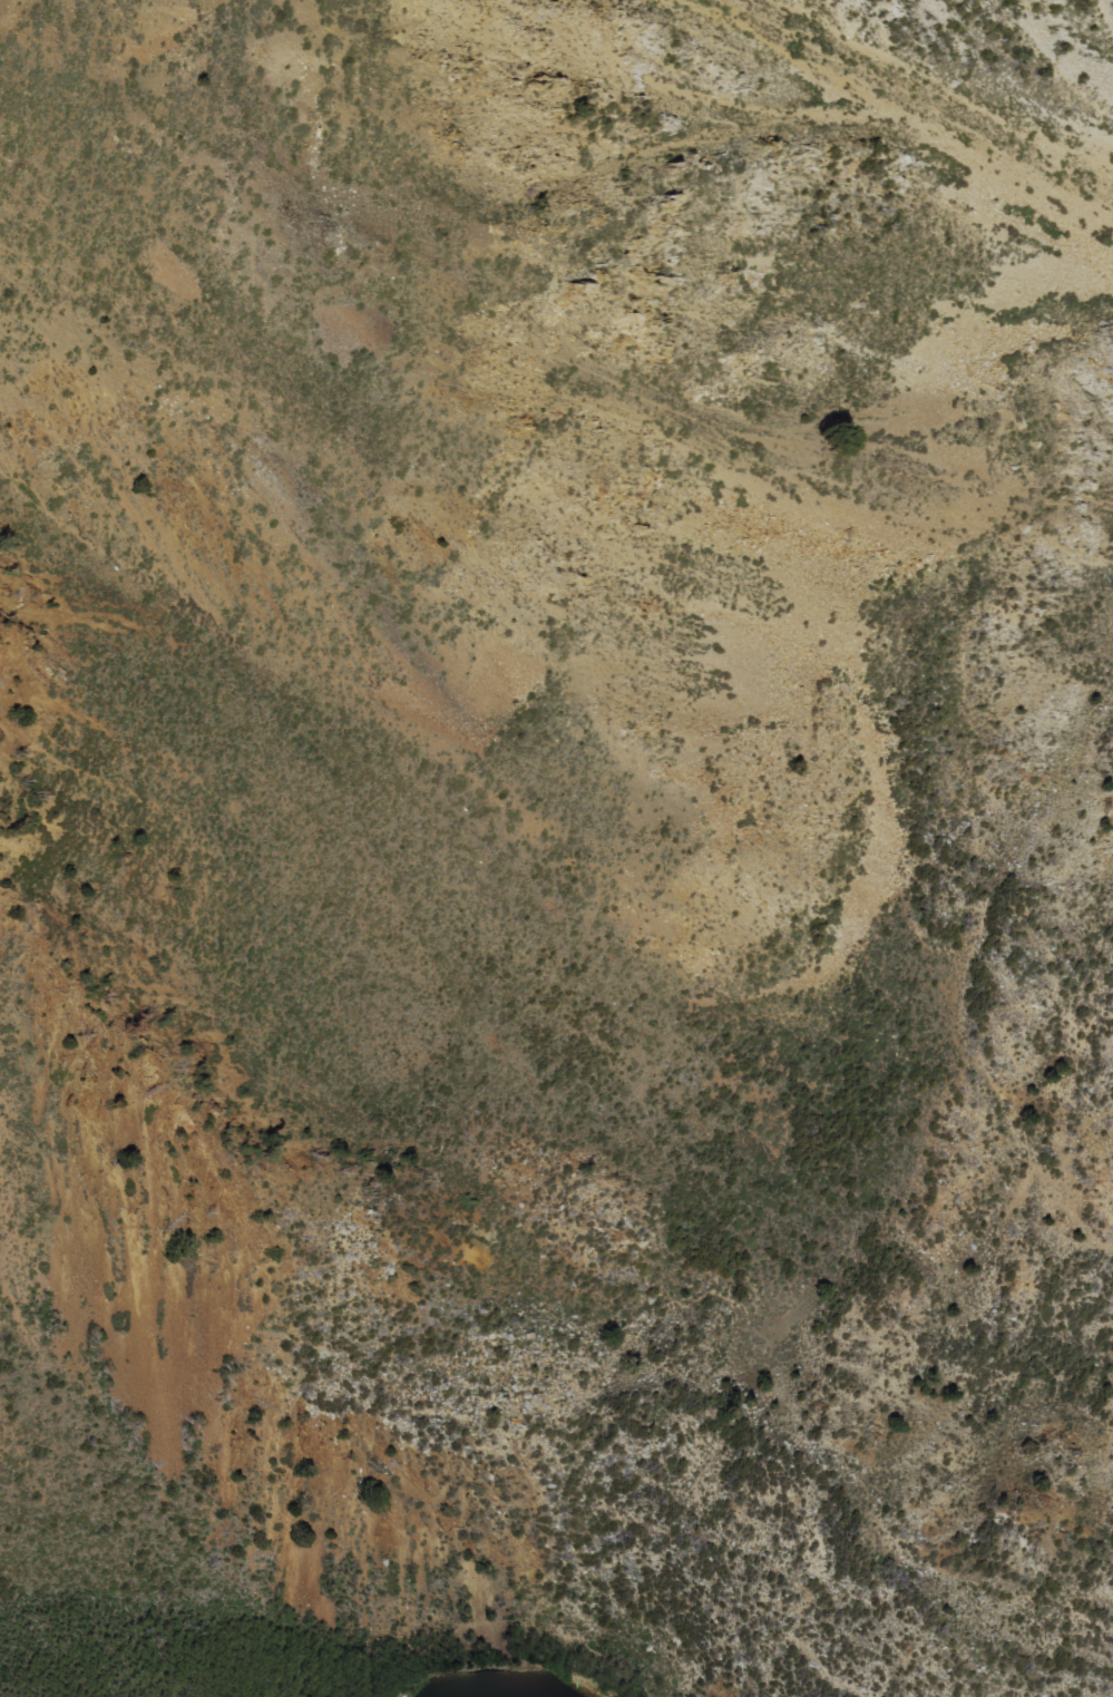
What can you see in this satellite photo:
road: (499, 1619)

